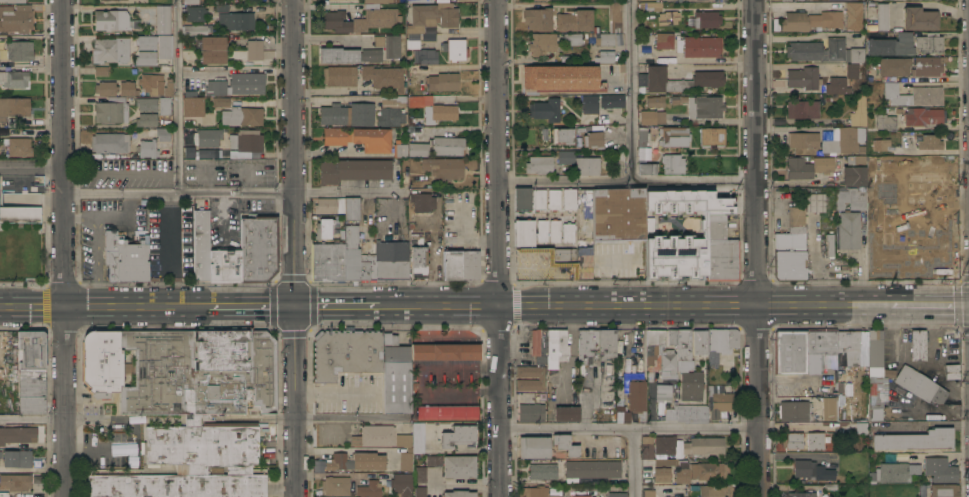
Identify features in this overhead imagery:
building: (13, 0)
building: (99, 0)
building: (376, 0)
building: (649, 0)
building: (850, 0)
building: (190, 1)
building: (419, 1)
building: (651, 5)
building: (221, 6)
road: (109, 7)
building: (195, 13)
building: (854, 15)
building: (615, 16)
building: (668, 17)
building: (16, 18)
building: (707, 18)
building: (879, 18)
building: (918, 18)
building: (111, 19)
building: (162, 19)
building: (362, 19)
building: (429, 19)
building: (539, 19)
building: (236, 20)
building: (575, 20)
building: (810, 20)
building: (196, 29)
building: (572, 38)
building: (605, 39)
building: (663, 40)
building: (928, 42)
building: (542, 43)
building: (388, 44)
building: (889, 45)
building: (699, 46)
building: (212, 48)
building: (254, 49)
building: (455, 49)
building: (19, 50)
building: (110, 50)
building: (817, 50)
building: (349, 54)
building: (854, 55)
building: (425, 56)
building: (605, 56)
building: (165, 57)
building: (145, 58)
building: (665, 59)
building: (870, 62)
building: (893, 66)
building: (926, 66)
road: (712, 67)
road: (238, 69)
building: (101, 70)
building: (855, 70)
building: (339, 75)
building: (707, 75)
building: (560, 76)
building: (384, 77)
building: (14, 78)
building: (802, 79)
building: (443, 81)
building: (246, 83)
building: (156, 84)
building: (836, 85)
building: (215, 86)
building: (106, 88)
building: (128, 88)
road: (631, 91)
building: (912, 94)
road: (179, 97)
building: (612, 101)
building: (146, 103)
building: (590, 104)
building: (164, 105)
building: (701, 105)
building: (193, 106)
building: (14, 107)
building: (545, 109)
building: (803, 109)
building: (111, 110)
building: (391, 110)
building: (858, 110)
building: (653, 111)
building: (237, 112)
building: (439, 113)
building: (347, 114)
building: (924, 117)
building: (146, 119)
building: (885, 121)
building: (591, 128)
building: (415, 132)
building: (163, 134)
building: (562, 135)
building: (674, 136)
building: (712, 136)
building: (206, 137)
building: (359, 137)
building: (641, 137)
building: (803, 139)
building: (246, 140)
building: (593, 140)
building: (843, 140)
building: (110, 142)
building: (876, 142)
building: (929, 142)
building: (448, 145)
building: (19, 146)
building: (147, 147)
building: (400, 147)
building: (418, 148)
building: (188, 151)
road: (497, 152)
building: (209, 153)
road: (294, 153)
building: (565, 156)
road: (32, 163)
building: (672, 163)
building: (539, 164)
building: (587, 165)
building: (808, 166)
building: (646, 167)
building: (443, 168)
building: (353, 170)
building: (854, 171)
building: (934, 174)
road: (694, 181)
road: (565, 183)
road: (223, 194)
building: (522, 198)
building: (850, 198)
building: (538, 199)
building: (553, 199)
building: (569, 199)
building: (421, 202)
building: (815, 202)
building: (329, 205)
building: (351, 208)
building: (587, 211)
building: (618, 213)
building: (20, 214)
road: (116, 215)
road: (78, 220)
building: (324, 228)
building: (950, 228)
building: (554, 230)
building: (847, 230)
building: (884, 231)
building: (528, 232)
building: (567, 232)
building: (829, 244)
building: (201, 245)
road: (64, 248)
building: (258, 248)
road: (758, 248)
building: (790, 248)
building: (720, 250)
building: (887, 250)
building: (111, 253)
building: (418, 255)
building: (557, 255)
building: (655, 255)
building: (133, 257)
building: (357, 257)
road: (161, 260)
building: (391, 260)
building: (328, 261)
building: (584, 262)
road: (97, 263)
building: (224, 264)
building: (461, 264)
road: (438, 305)
road: (629, 305)
road: (824, 305)
road: (929, 305)
road: (251, 306)
road: (336, 306)
road: (135, 307)
road: (32, 308)
building: (672, 336)
building: (700, 343)
building: (720, 344)
building: (539, 345)
building: (556, 345)
building: (595, 345)
building: (917, 345)
building: (847, 348)
building: (683, 350)
building: (802, 350)
building: (446, 352)
building: (346, 353)
building: (660, 353)
building: (102, 361)
building: (31, 371)
building: (877, 371)
building: (950, 372)
building: (396, 375)
building: (541, 378)
building: (919, 385)
building: (691, 386)
building: (662, 392)
road: (336, 393)
building: (637, 399)
road: (500, 400)
road: (297, 401)
building: (719, 401)
building: (621, 408)
building: (828, 408)
building: (196, 411)
building: (531, 411)
building: (794, 411)
building: (445, 412)
building: (671, 412)
building: (566, 413)
building: (692, 413)
building: (874, 415)
road: (348, 416)
road: (87, 418)
road: (33, 420)
road: (119, 422)
road: (630, 428)
building: (861, 428)
road: (134, 433)
building: (15, 435)
building: (375, 435)
building: (458, 436)
building: (418, 437)
building: (403, 440)
building: (791, 440)
building: (915, 440)
building: (815, 441)
building: (564, 445)
building: (703, 446)
building: (533, 447)
building: (646, 447)
building: (664, 447)
road: (346, 449)
road: (113, 451)
road: (77, 452)
building: (0, 454)
road: (930, 454)
building: (17, 458)
building: (433, 460)
building: (358, 461)
building: (405, 461)
road: (635, 462)
building: (665, 462)
building: (459, 466)
building: (591, 469)
building: (913, 469)
building: (939, 470)
building: (542, 471)
building: (811, 471)
building: (701, 472)
building: (890, 473)
building: (663, 474)
building: (419, 475)
building: (16, 481)
building: (401, 484)
building: (336, 485)
building: (369, 488)
building: (712, 490)
building: (922, 490)
building: (944, 490)
building: (420, 491)
building: (536, 492)
building: (648, 492)
building: (459, 493)
building: (617, 494)
building: (801, 494)
building: (582, 495)

